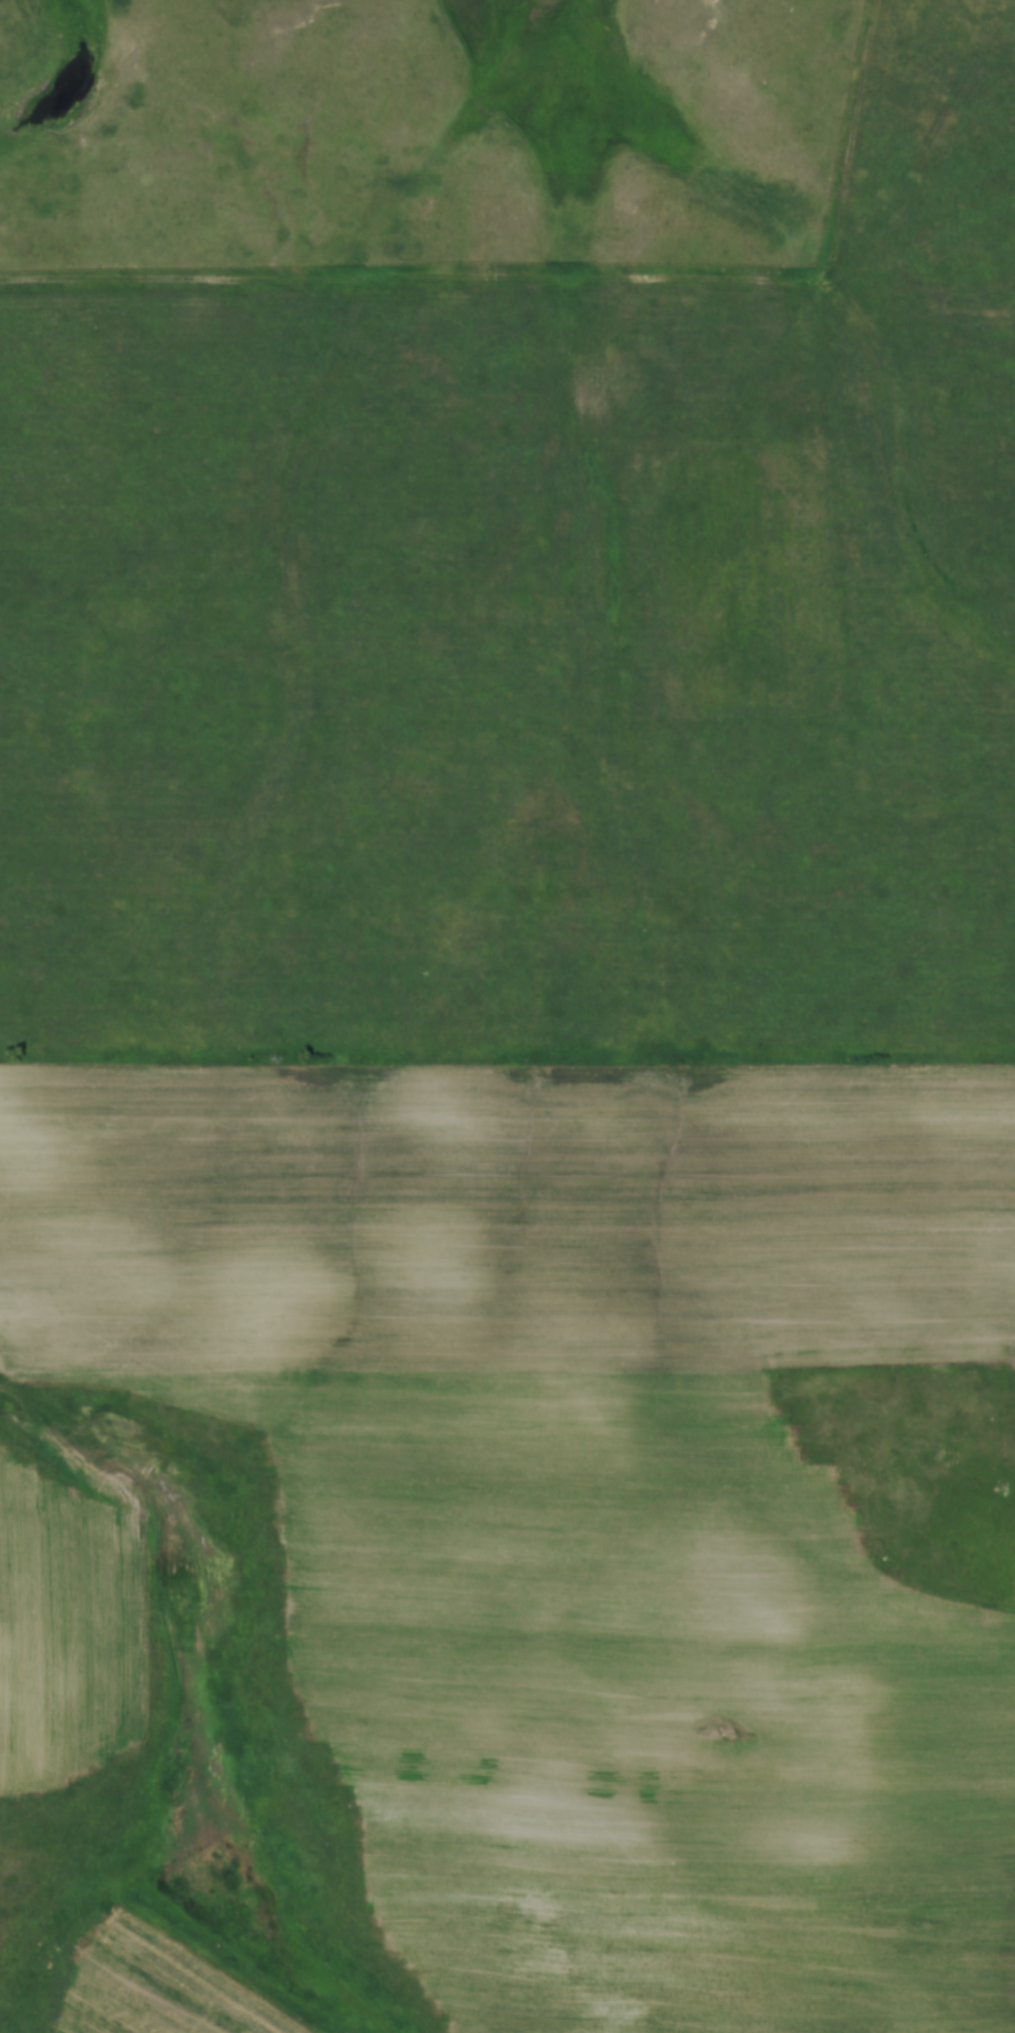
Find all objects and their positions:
road: (553, 280)

